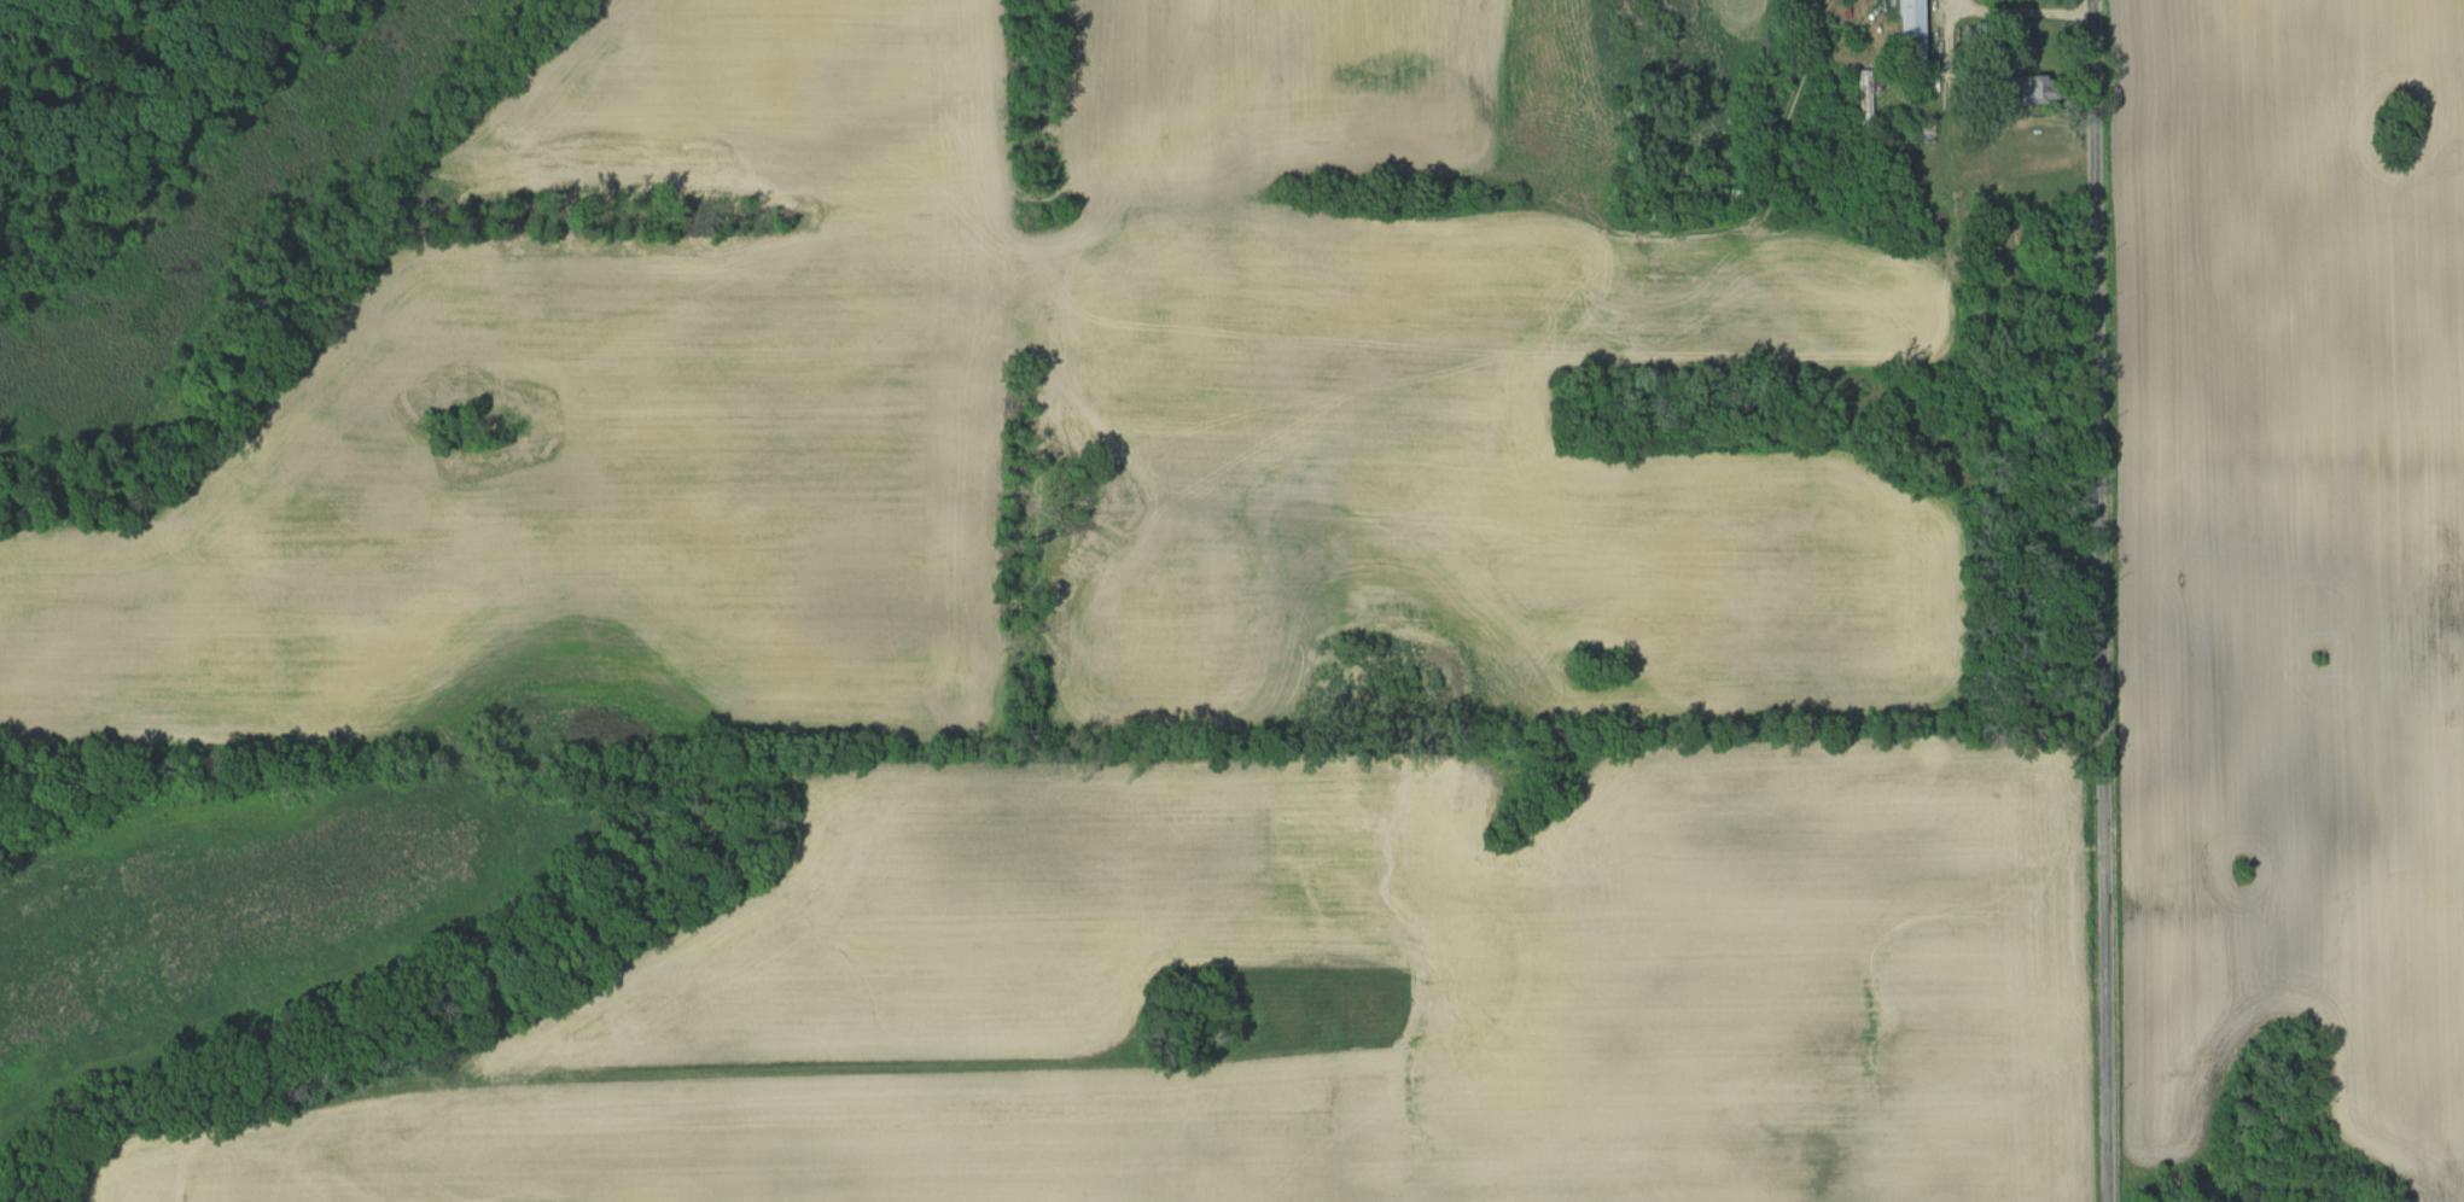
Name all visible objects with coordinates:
building: (1905, 35)
building: (2029, 88)
building: (1865, 94)
road: (2104, 600)

